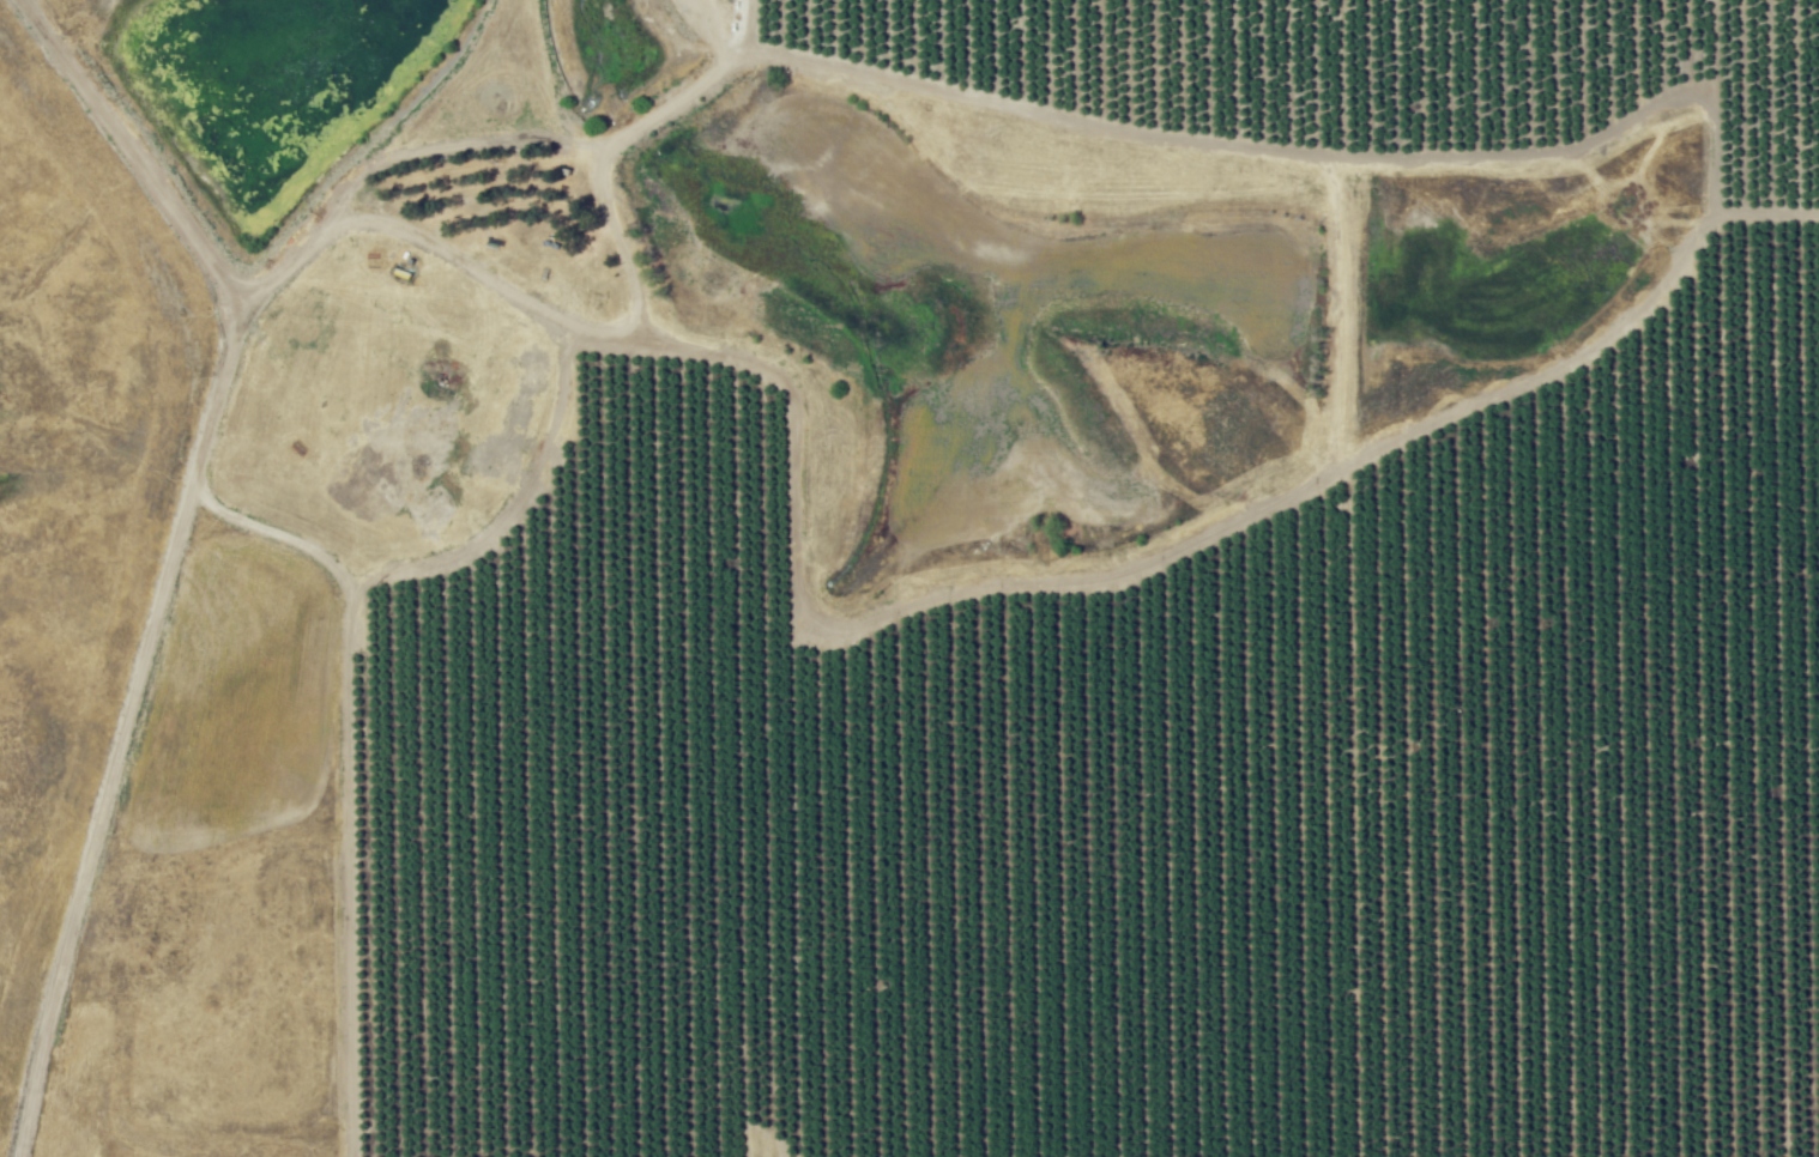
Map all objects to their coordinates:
crop: (973, 583)

